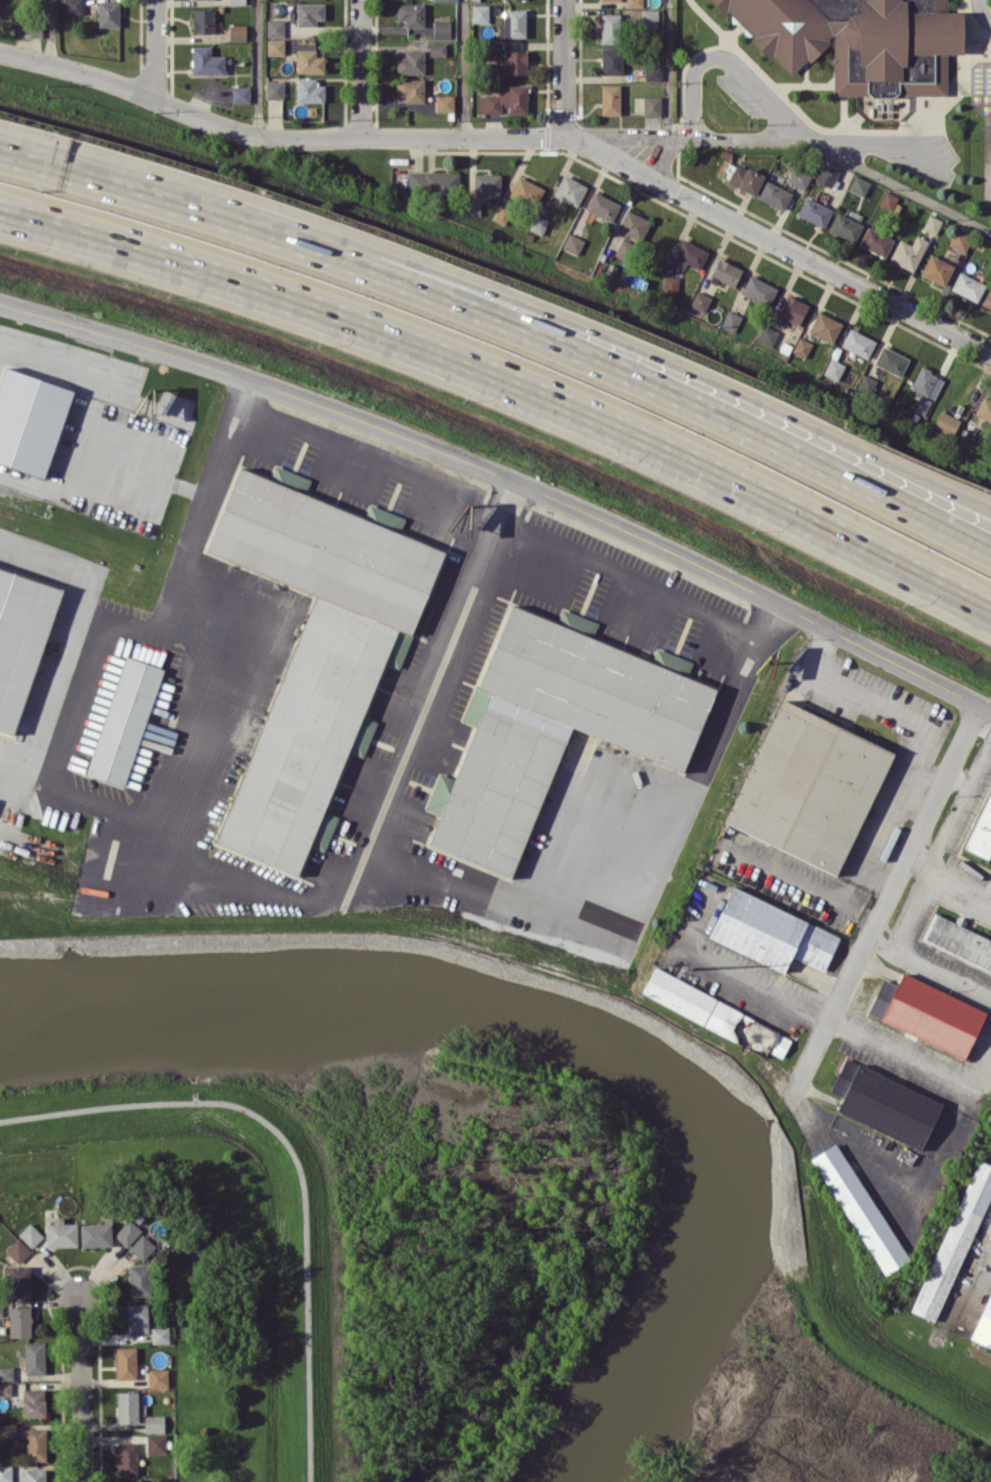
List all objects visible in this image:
building: (446, 0)
building: (609, 0)
building: (236, 1)
building: (634, 3)
building: (73, 7)
road: (983, 10)
building: (108, 13)
building: (309, 13)
building: (480, 13)
building: (410, 14)
building: (649, 18)
building: (202, 21)
building: (512, 23)
building: (275, 28)
building: (441, 28)
building: (611, 28)
building: (32, 29)
road: (51, 32)
building: (237, 32)
building: (859, 40)
building: (275, 46)
building: (437, 49)
road: (155, 50)
building: (611, 60)
building: (207, 61)
building: (309, 61)
building: (411, 62)
building: (515, 62)
road: (733, 63)
road: (563, 67)
road: (258, 68)
road: (359, 68)
road: (464, 68)
road: (668, 69)
building: (653, 72)
building: (274, 89)
building: (410, 89)
building: (309, 90)
building: (240, 94)
building: (506, 99)
building: (610, 99)
building: (444, 103)
building: (651, 105)
road: (177, 109)
road: (643, 137)
building: (827, 174)
building: (742, 177)
building: (799, 177)
building: (433, 182)
building: (486, 184)
building: (859, 185)
road: (902, 186)
building: (569, 190)
building: (526, 191)
building: (774, 194)
road: (160, 196)
building: (887, 200)
building: (471, 206)
building: (602, 206)
building: (814, 211)
building: (502, 215)
building: (538, 224)
building: (633, 224)
building: (932, 224)
building: (845, 226)
building: (960, 240)
building: (875, 241)
building: (572, 243)
road: (779, 244)
building: (908, 252)
building: (690, 254)
building: (936, 269)
building: (726, 272)
building: (670, 283)
building: (968, 286)
building: (759, 289)
building: (987, 298)
building: (699, 301)
building: (792, 309)
building: (731, 320)
building: (825, 326)
building: (767, 334)
building: (858, 342)
building: (802, 347)
road: (661, 359)
building: (891, 360)
building: (833, 368)
road: (506, 382)
building: (926, 382)
road: (660, 387)
building: (923, 405)
building: (984, 408)
road: (95, 414)
building: (30, 420)
building: (946, 422)
road: (368, 465)
road: (501, 474)
road: (625, 580)
road: (123, 624)
building: (21, 639)
building: (317, 648)
road: (985, 707)
road: (895, 708)
building: (124, 721)
building: (554, 726)
road: (956, 779)
building: (808, 787)
road: (390, 791)
road: (186, 793)
road: (16, 799)
road: (958, 799)
road: (607, 820)
building: (982, 831)
road: (28, 843)
road: (868, 844)
road: (946, 882)
road: (800, 884)
road: (885, 899)
building: (771, 932)
building: (959, 941)
road: (928, 967)
road: (728, 974)
building: (927, 1013)
building: (716, 1014)
river: (582, 1026)
road: (901, 1052)
building: (884, 1103)
road: (955, 1120)
road: (850, 1141)
road: (298, 1159)
building: (859, 1208)
building: (127, 1232)
building: (61, 1233)
building: (96, 1233)
building: (30, 1234)
building: (955, 1241)
building: (142, 1247)
building: (17, 1250)
road: (983, 1253)
road: (969, 1263)
building: (18, 1280)
building: (140, 1280)
building: (1, 1308)
building: (136, 1317)
building: (19, 1321)
building: (983, 1325)
building: (160, 1334)
building: (35, 1358)
building: (126, 1362)
building: (6, 1373)
building: (157, 1378)
building: (5, 1389)
road: (81, 1390)
building: (33, 1402)
building: (127, 1406)
building: (154, 1423)
building: (7, 1430)
building: (155, 1443)
building: (36, 1444)
building: (127, 1458)
building: (5, 1473)
building: (34, 1475)

